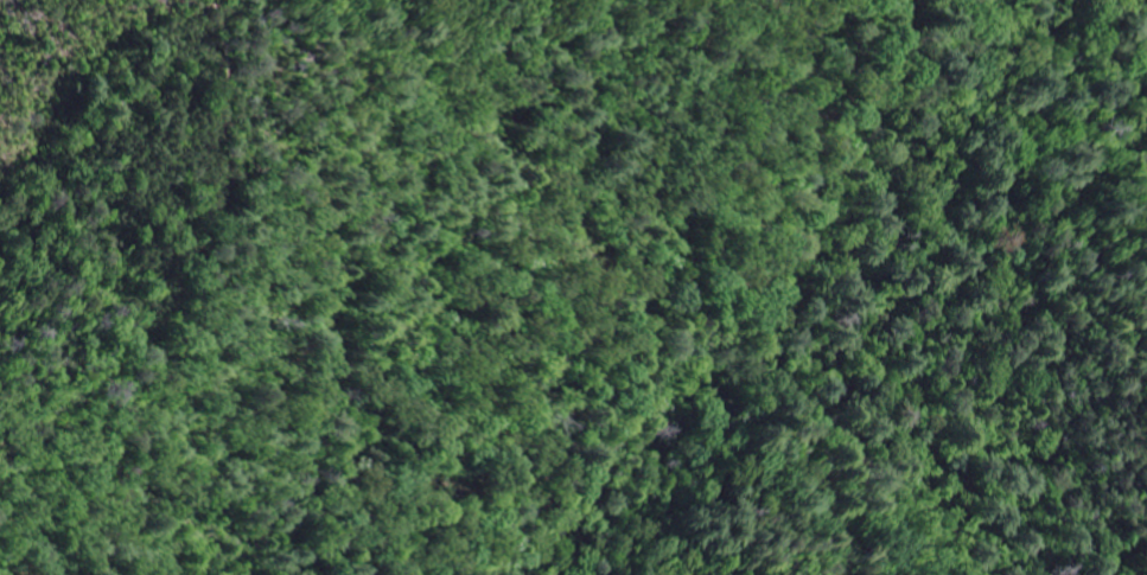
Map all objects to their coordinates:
road: (193, 266)

